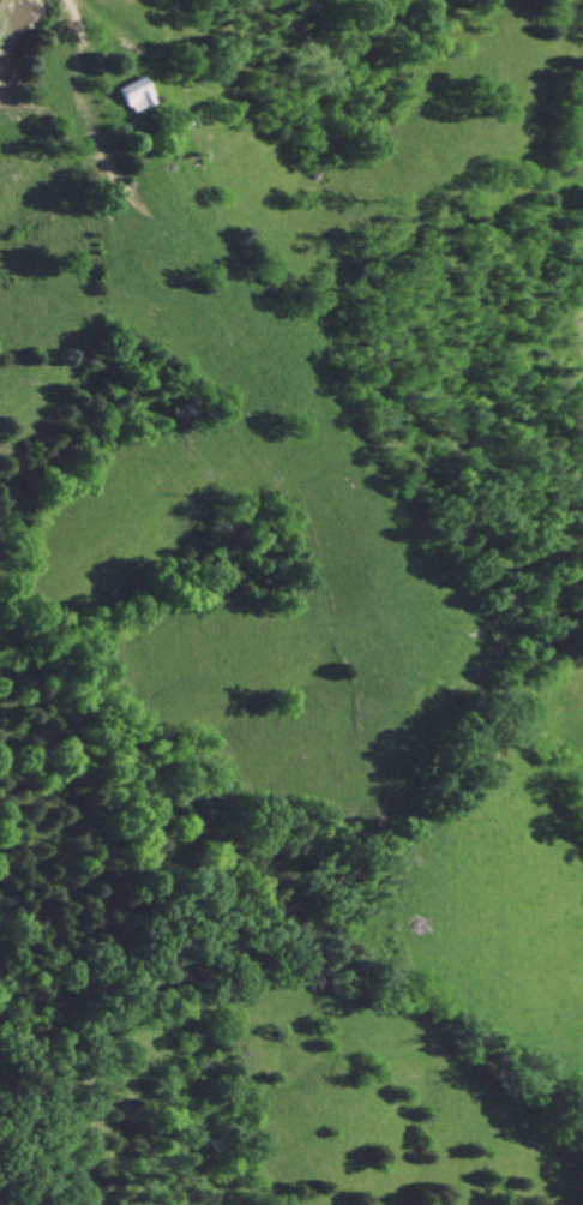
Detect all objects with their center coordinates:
building: (133, 95)
road: (317, 293)

